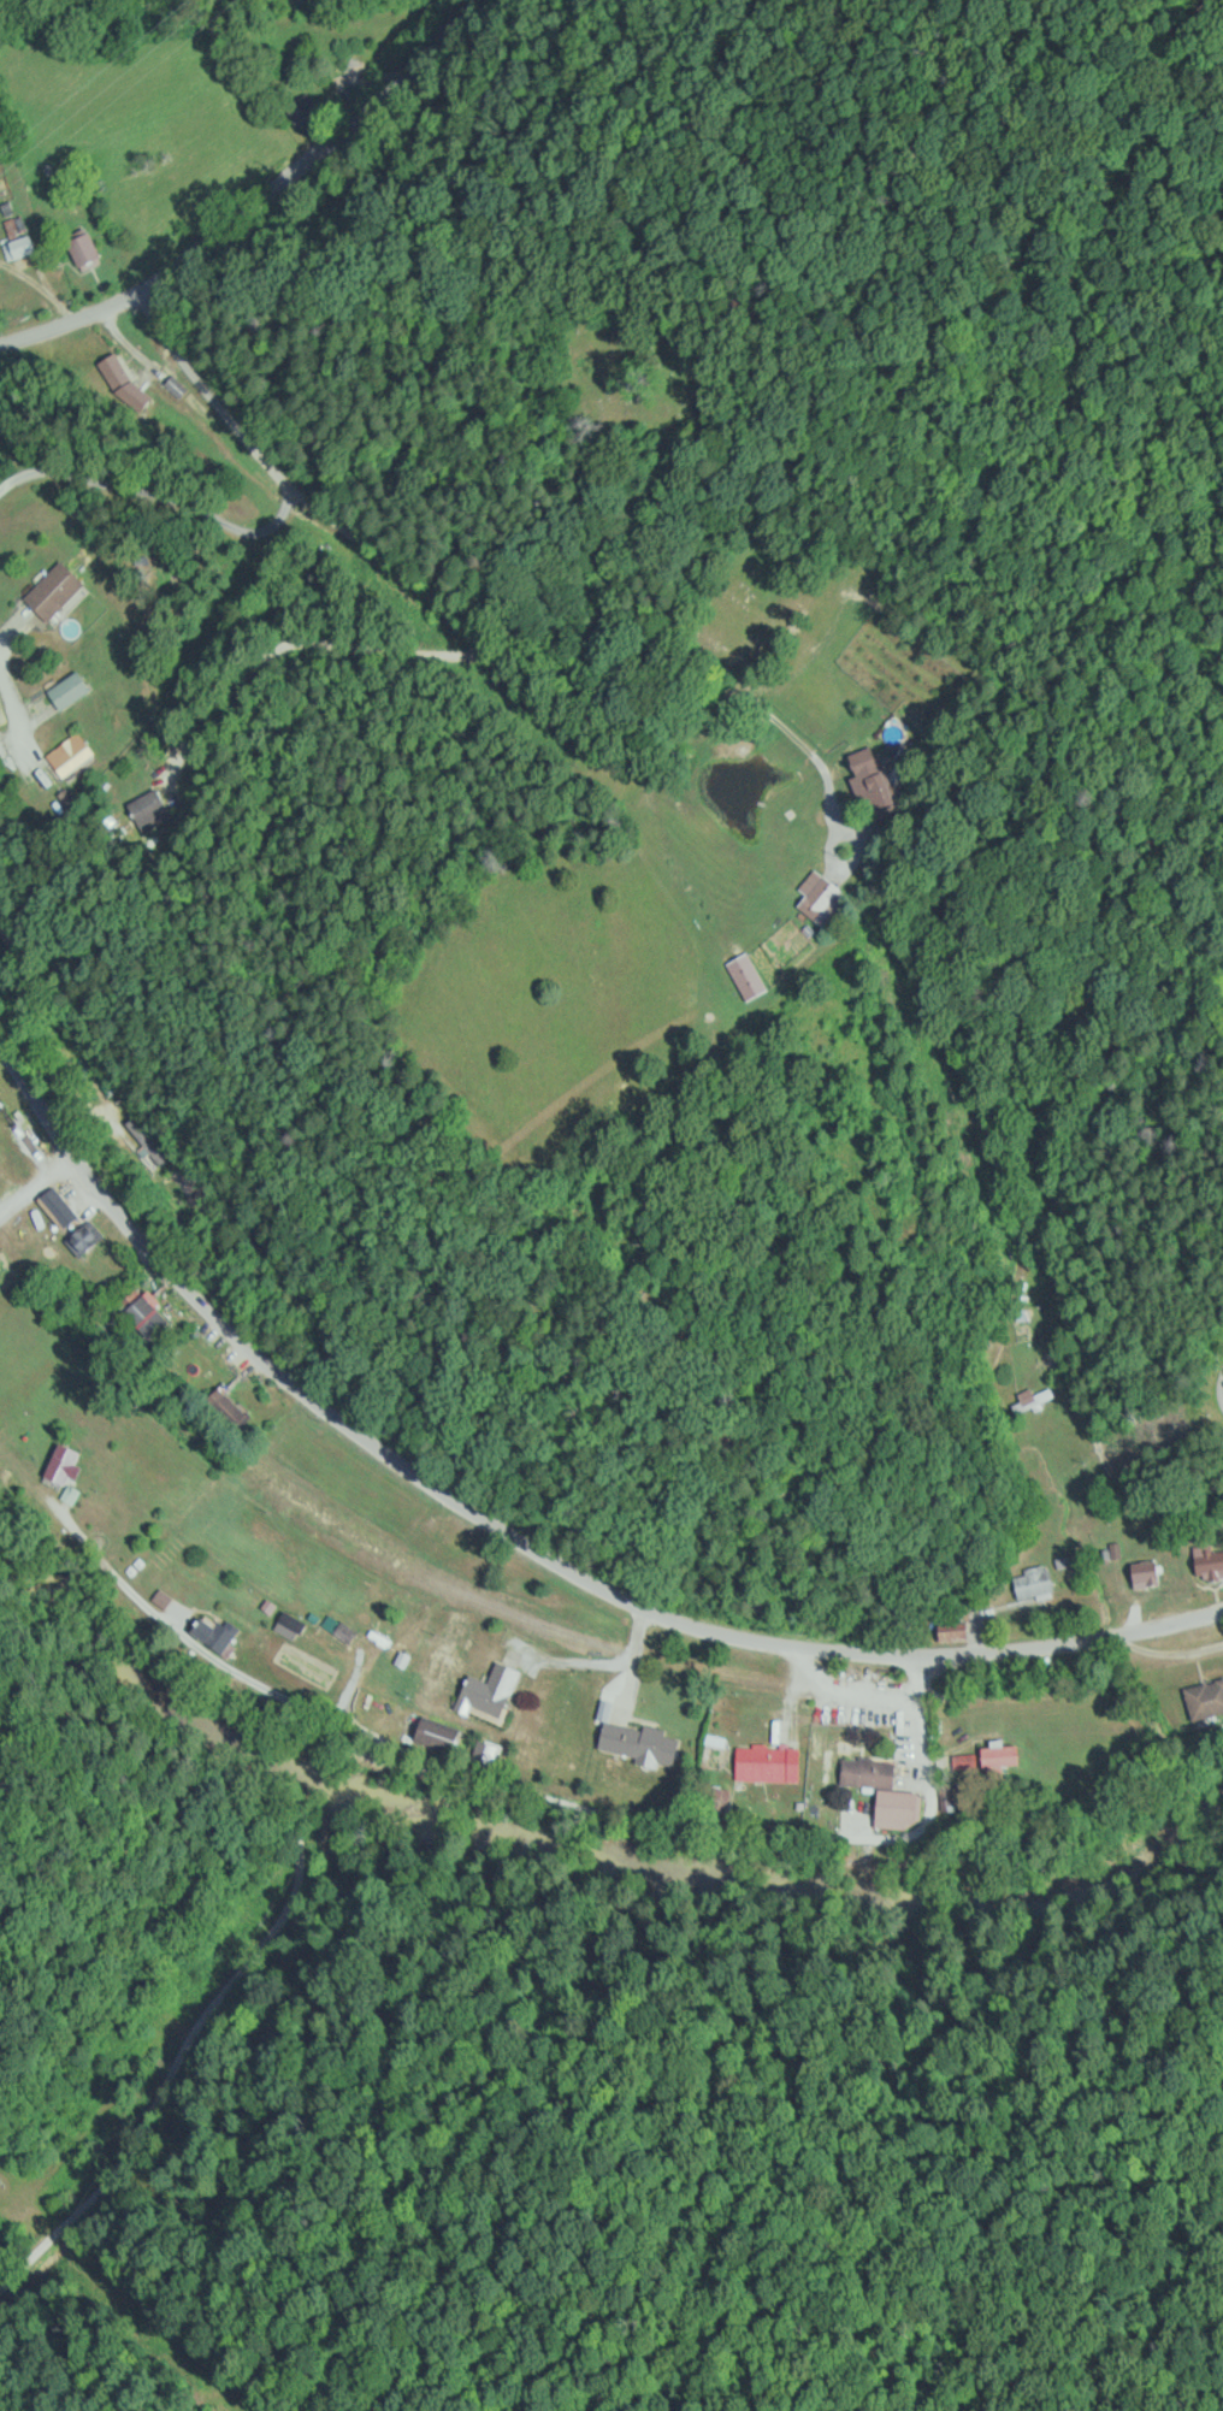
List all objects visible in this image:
building: (302, 112)
road: (250, 196)
building: (19, 246)
building: (85, 250)
building: (124, 386)
building: (54, 590)
road: (462, 610)
building: (70, 690)
building: (70, 755)
building: (876, 781)
building: (148, 810)
building: (821, 897)
building: (11, 930)
building: (746, 975)
building: (144, 1139)
building: (189, 1192)
building: (58, 1207)
building: (84, 1239)
building: (146, 1317)
road: (1219, 1389)
building: (1030, 1397)
building: (2, 1437)
building: (64, 1464)
road: (520, 1538)
building: (1209, 1562)
building: (1147, 1573)
building: (1033, 1582)
building: (291, 1623)
building: (214, 1632)
building: (345, 1632)
building: (955, 1632)
building: (491, 1690)
building: (1205, 1700)
building: (437, 1736)
building: (639, 1743)
road: (402, 1755)
building: (1002, 1756)
building: (768, 1762)
building: (867, 1772)
building: (713, 1798)
building: (898, 1809)

